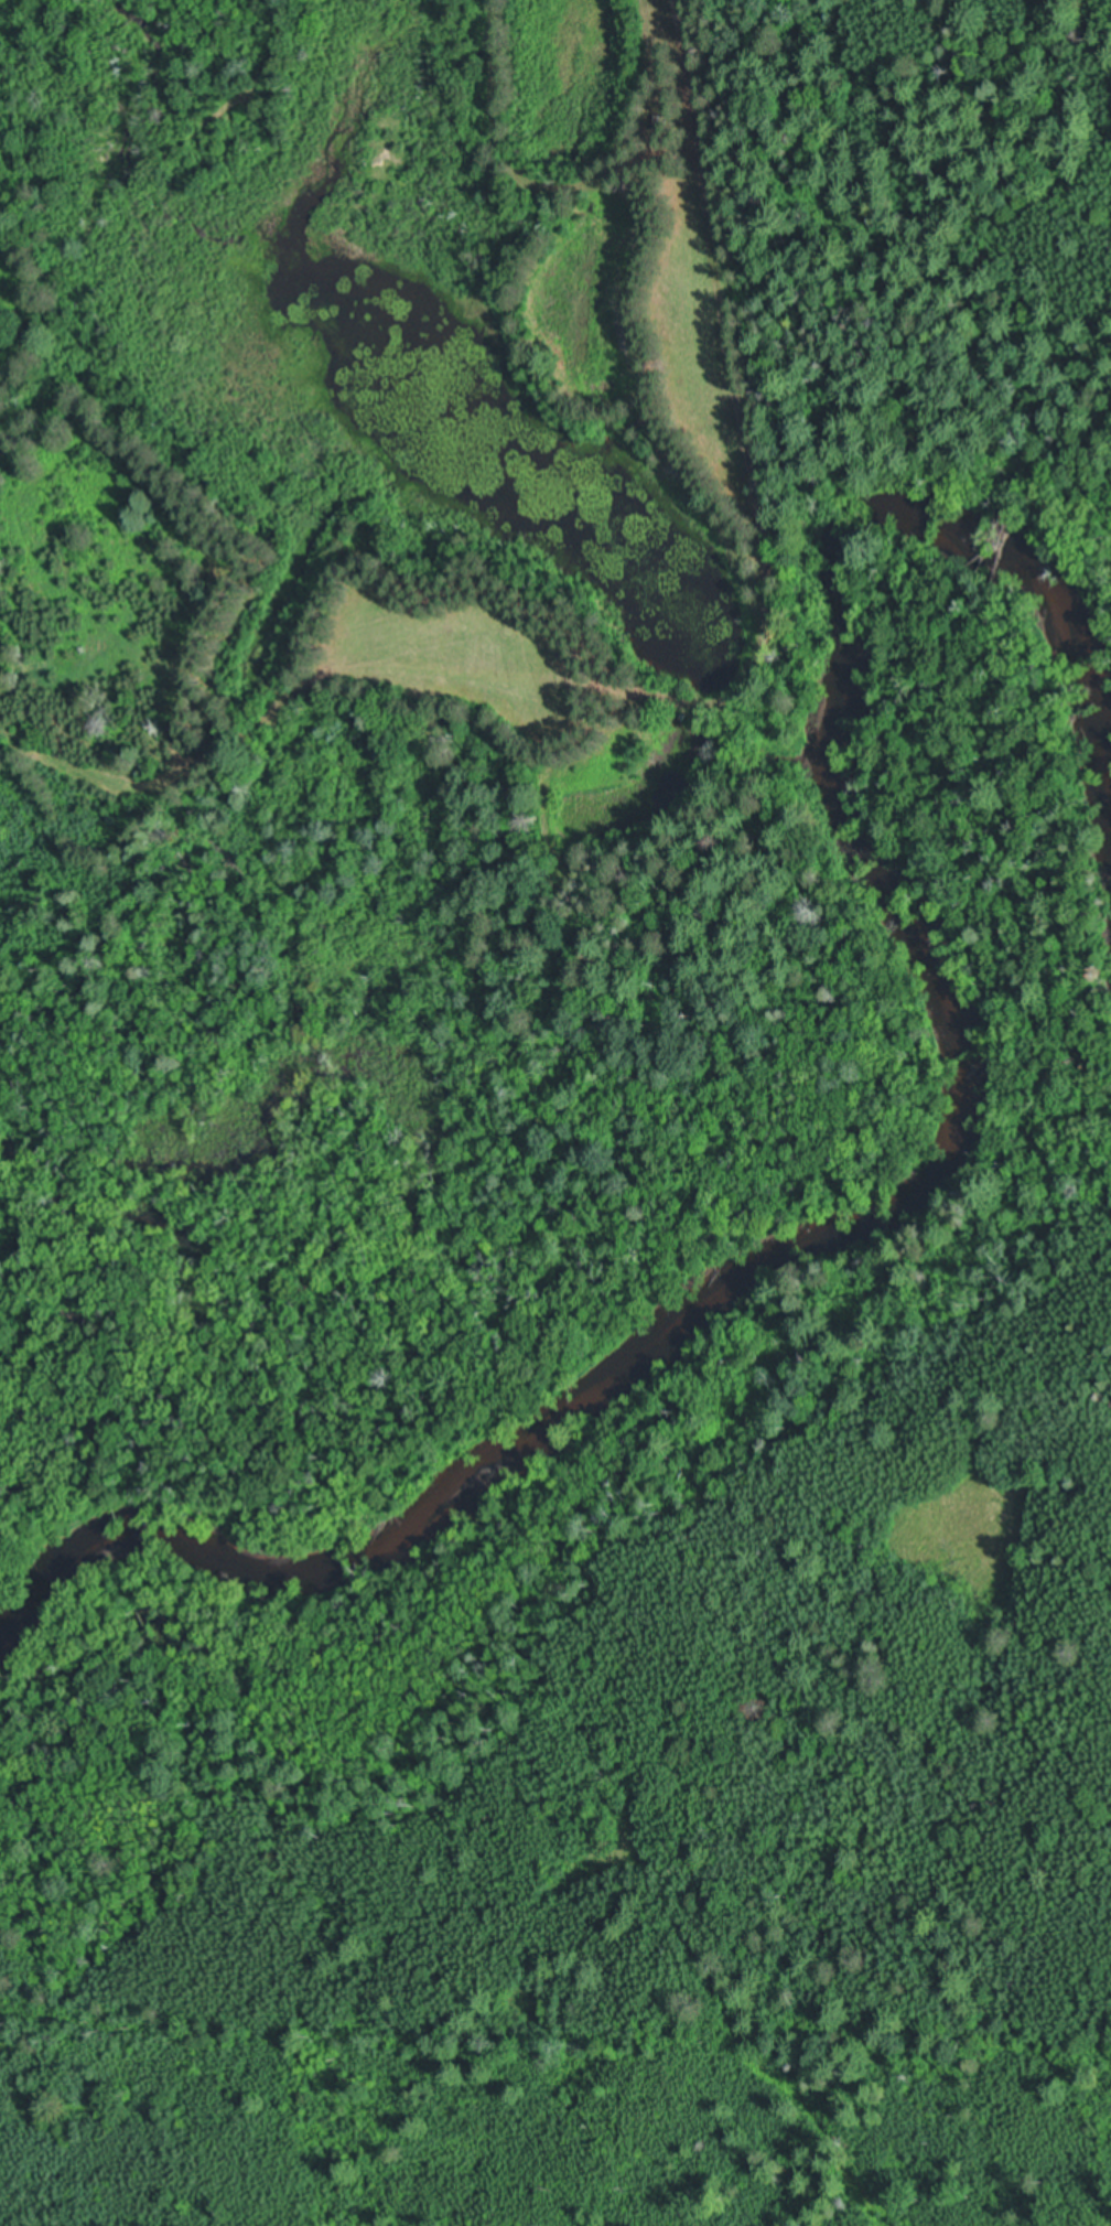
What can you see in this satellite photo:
road: (743, 452)
river: (963, 1123)

